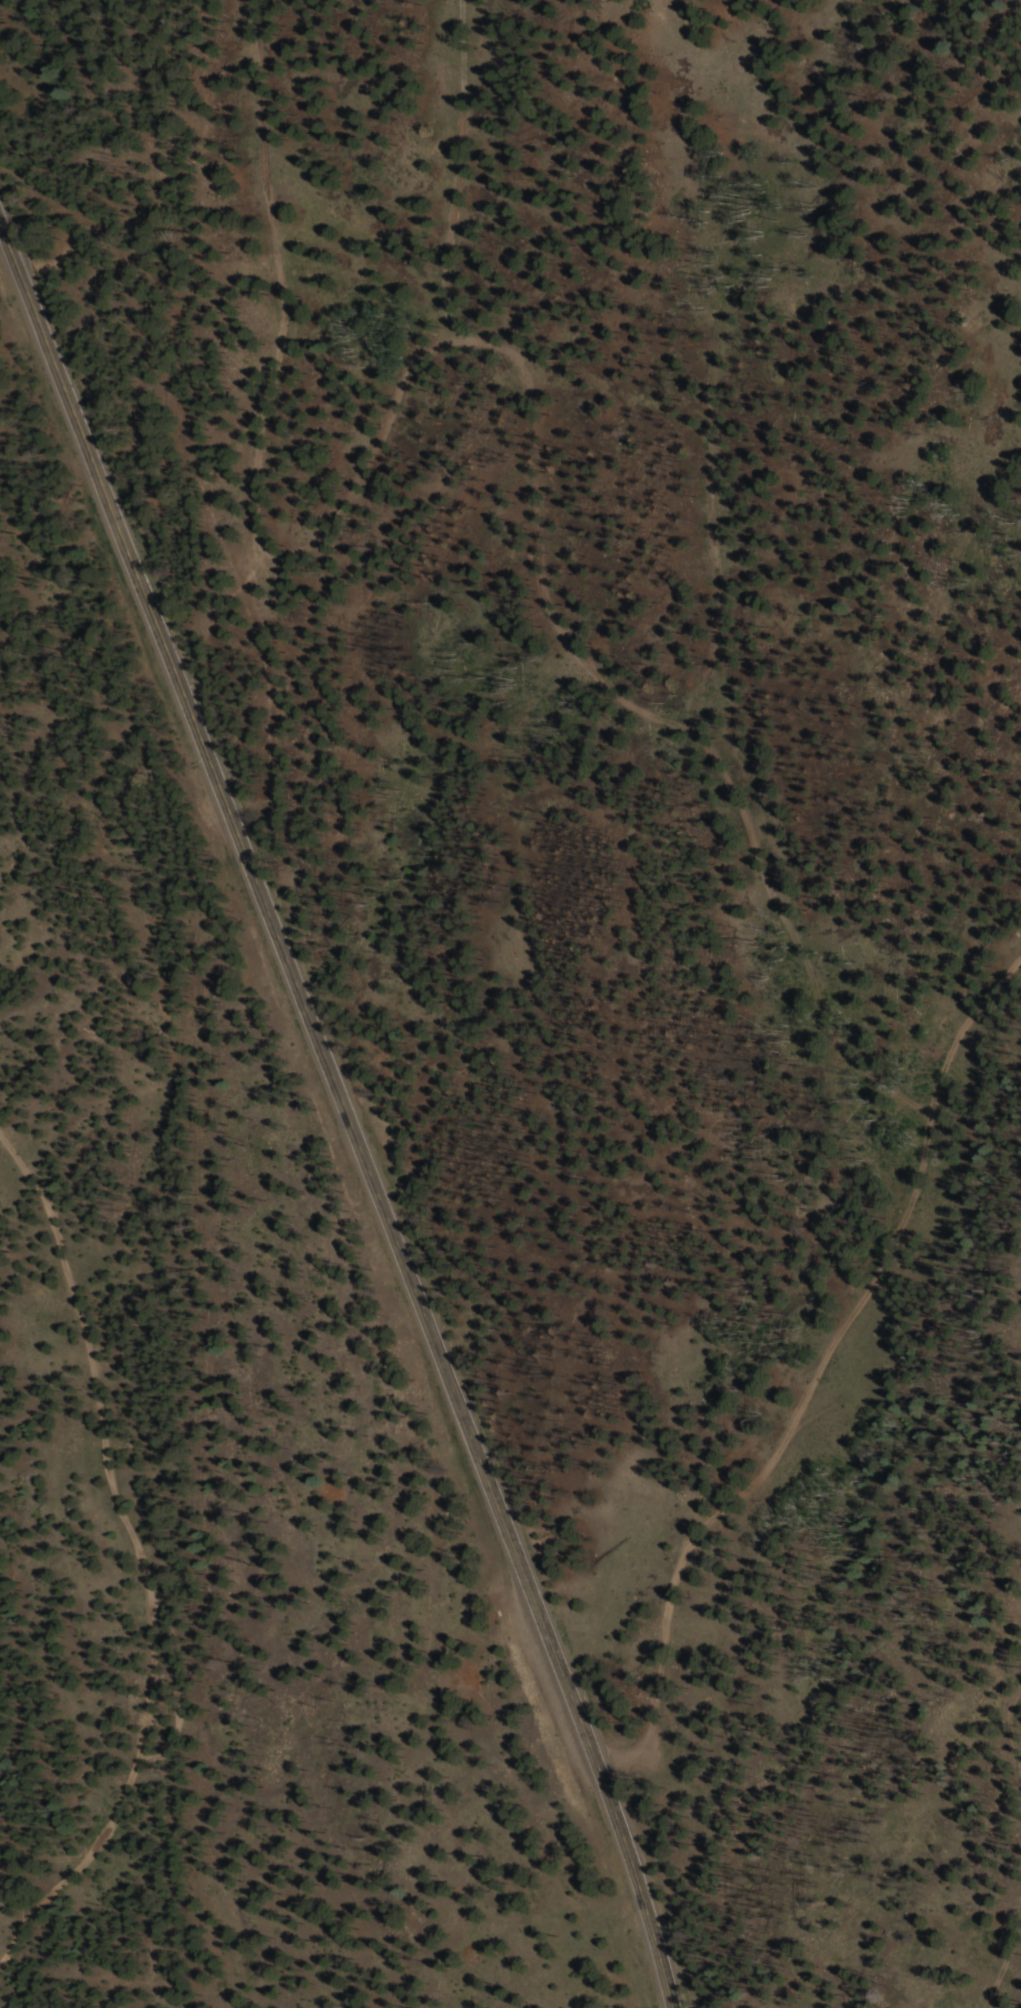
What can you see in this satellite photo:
road: (42, 115)
road: (28, 191)
road: (343, 1114)
road: (125, 1558)

